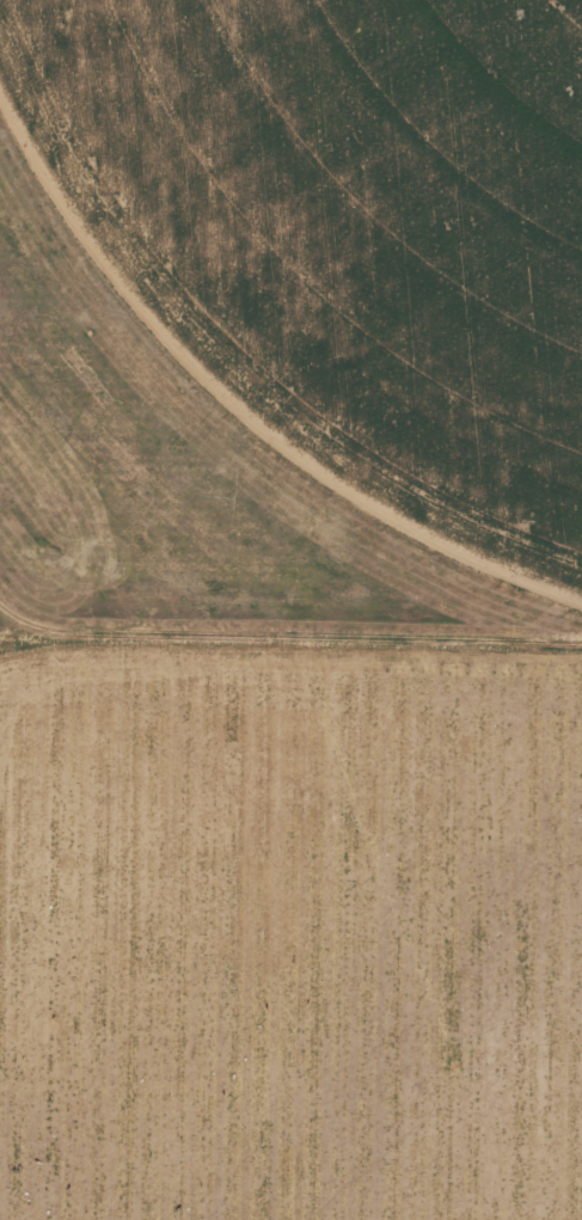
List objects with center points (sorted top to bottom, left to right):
crop: (290, 609)

